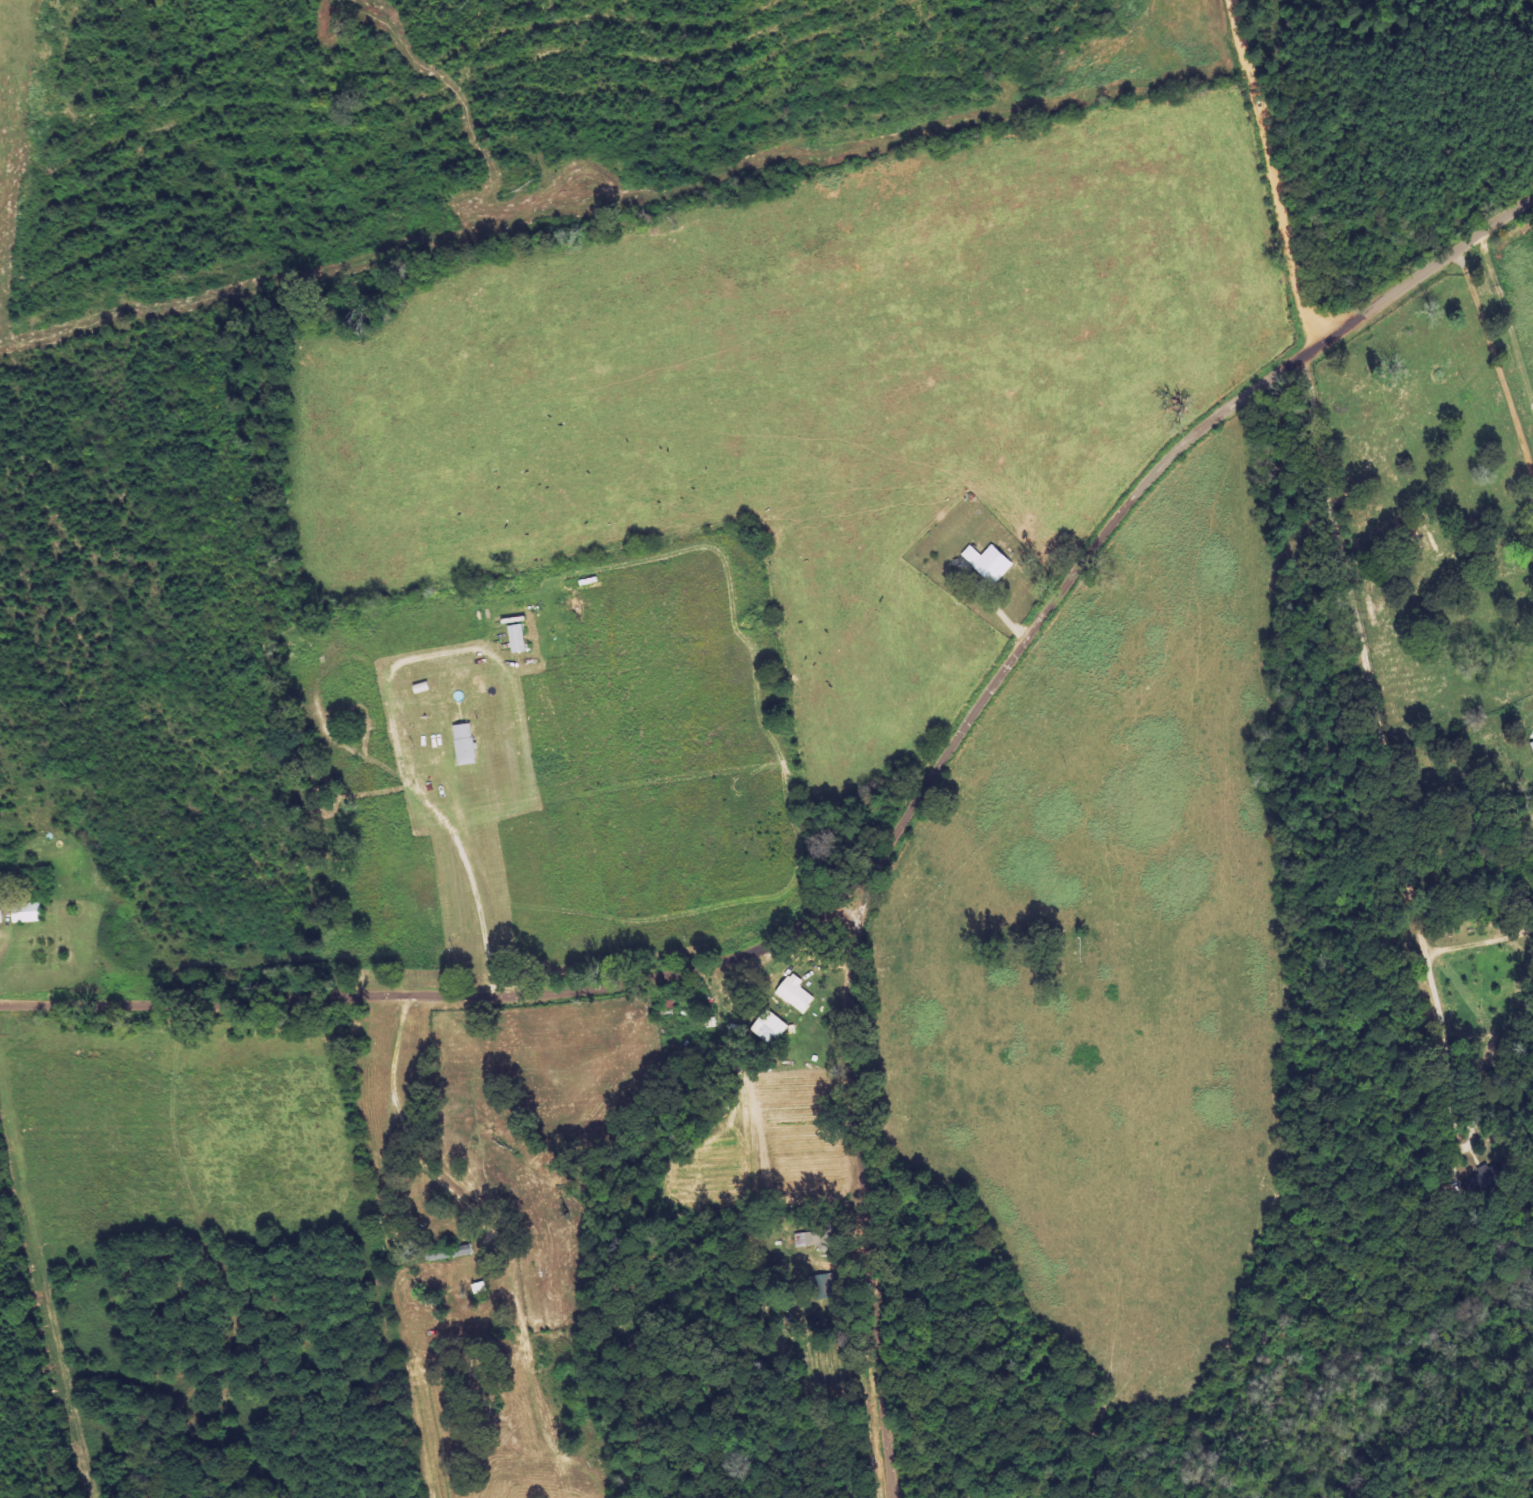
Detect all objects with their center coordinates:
road: (1293, 167)
road: (1499, 352)
building: (991, 561)
road: (1371, 651)
road: (960, 732)
building: (467, 743)
building: (29, 911)
building: (798, 992)
road: (470, 996)
building: (772, 1026)

